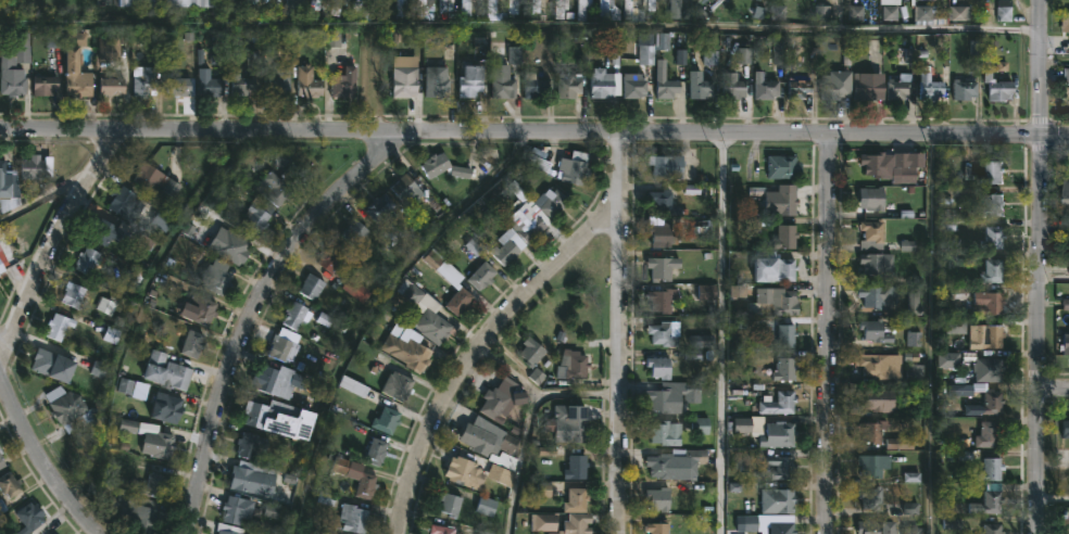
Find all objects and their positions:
road: (110, 0)
building: (266, 0)
building: (759, 1)
building: (172, 2)
building: (447, 5)
building: (247, 7)
building: (293, 7)
building: (339, 7)
building: (537, 7)
building: (651, 7)
building: (676, 7)
building: (424, 8)
building: (467, 8)
building: (586, 8)
building: (368, 9)
building: (401, 9)
building: (561, 9)
building: (313, 10)
building: (780, 10)
building: (496, 11)
building: (606, 11)
building: (636, 11)
building: (1067, 21)
road: (518, 28)
building: (337, 40)
building: (481, 47)
building: (109, 48)
building: (646, 55)
road: (1054, 65)
building: (16, 66)
building: (78, 66)
building: (146, 79)
building: (439, 80)
building: (475, 80)
building: (310, 81)
building: (344, 81)
building: (407, 81)
building: (277, 82)
building: (505, 82)
building: (604, 82)
building: (246, 84)
building: (668, 84)
building: (930, 84)
building: (47, 85)
building: (638, 85)
building: (735, 85)
building: (113, 86)
building: (180, 86)
building: (569, 86)
building: (214, 87)
building: (542, 87)
building: (768, 87)
building: (903, 87)
building: (834, 88)
building: (867, 88)
building: (1002, 88)
building: (703, 89)
building: (802, 89)
building: (968, 89)
road: (534, 133)
building: (540, 163)
building: (438, 164)
building: (670, 165)
building: (892, 166)
building: (37, 167)
building: (576, 168)
building: (782, 168)
building: (984, 171)
building: (273, 178)
building: (158, 179)
building: (9, 188)
building: (407, 189)
building: (1062, 190)
road: (41, 198)
building: (872, 198)
building: (666, 201)
building: (788, 201)
building: (552, 202)
building: (990, 204)
building: (139, 208)
building: (383, 209)
building: (259, 216)
building: (529, 221)
building: (106, 232)
building: (357, 232)
building: (664, 234)
building: (787, 238)
building: (989, 239)
road: (51, 243)
building: (873, 246)
building: (235, 247)
building: (510, 249)
building: (335, 257)
building: (90, 259)
building: (444, 266)
building: (1, 267)
building: (665, 267)
road: (1041, 267)
building: (777, 269)
building: (989, 271)
building: (481, 276)
building: (217, 277)
road: (1055, 281)
building: (313, 287)
building: (357, 287)
building: (74, 294)
building: (876, 296)
building: (664, 300)
building: (462, 302)
building: (774, 302)
building: (984, 303)
building: (917, 304)
building: (105, 307)
building: (204, 308)
road: (254, 310)
building: (425, 313)
building: (306, 315)
building: (59, 327)
road: (624, 333)
building: (989, 333)
road: (729, 334)
road: (828, 334)
building: (880, 334)
road: (934, 334)
building: (665, 335)
building: (785, 336)
road: (487, 342)
building: (193, 344)
building: (1064, 344)
building: (405, 347)
building: (285, 349)
building: (533, 352)
building: (55, 365)
building: (574, 365)
building: (875, 366)
building: (659, 367)
building: (985, 369)
building: (99, 370)
building: (788, 370)
building: (167, 371)
building: (280, 381)
building: (395, 385)
road: (1055, 389)
road: (578, 392)
building: (500, 397)
building: (666, 399)
building: (876, 400)
building: (990, 402)
building: (780, 404)
building: (167, 407)
building: (71, 408)
building: (280, 418)
building: (388, 420)
building: (573, 425)
building: (701, 427)
road: (527, 429)
building: (1064, 429)
building: (768, 431)
building: (870, 431)
building: (667, 433)
building: (985, 434)
building: (489, 438)
building: (159, 442)
building: (252, 445)
building: (378, 452)
road: (39, 459)
building: (2, 460)
building: (676, 462)
building: (867, 466)
building: (578, 467)
building: (781, 468)
building: (986, 470)
building: (466, 472)
building: (251, 476)
building: (155, 483)
building: (11, 485)
building: (365, 486)
building: (868, 498)
building: (661, 499)
road: (1055, 499)
building: (579, 500)
building: (985, 500)
building: (782, 501)
building: (452, 504)
building: (490, 508)
building: (238, 512)
building: (141, 514)
building: (32, 518)
building: (354, 519)
building: (545, 523)
building: (580, 524)
building: (659, 525)
building: (872, 527)
building: (230, 529)
building: (783, 529)
building: (991, 529)
building: (443, 530)
building: (481, 533)

